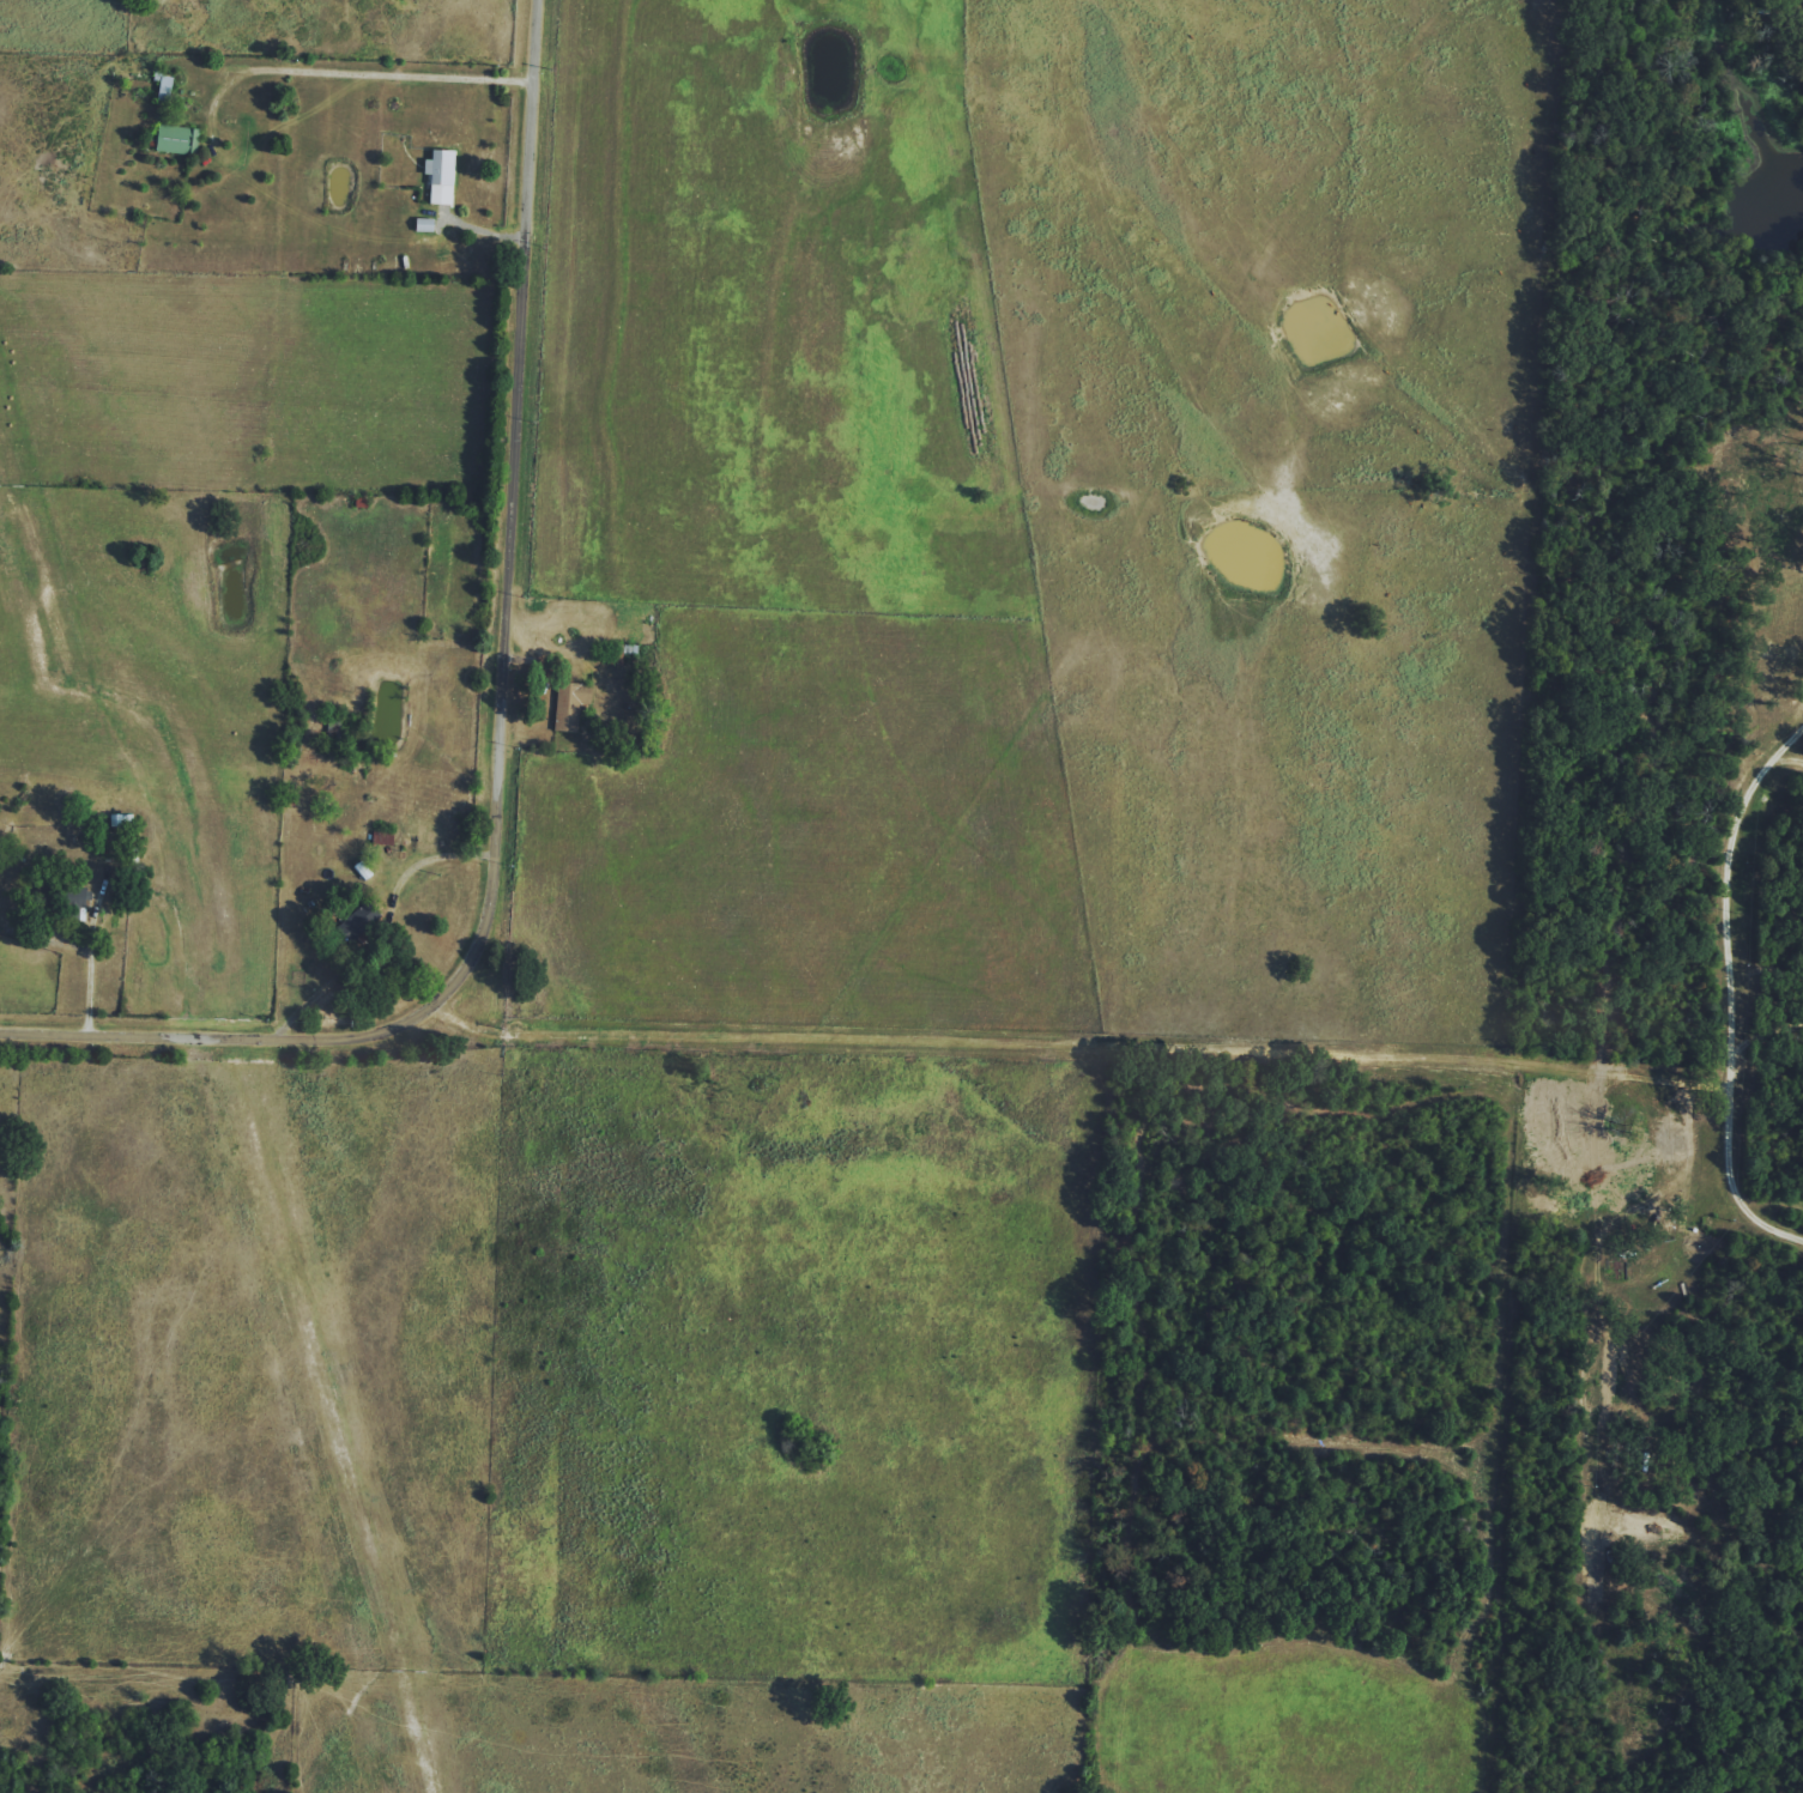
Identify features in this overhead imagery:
road: (369, 68)
building: (164, 85)
building: (177, 139)
building: (442, 175)
road: (282, 236)
building: (571, 704)
road: (498, 732)
building: (78, 898)
road: (388, 927)
road: (91, 968)
road: (1734, 987)
road: (1081, 1049)

